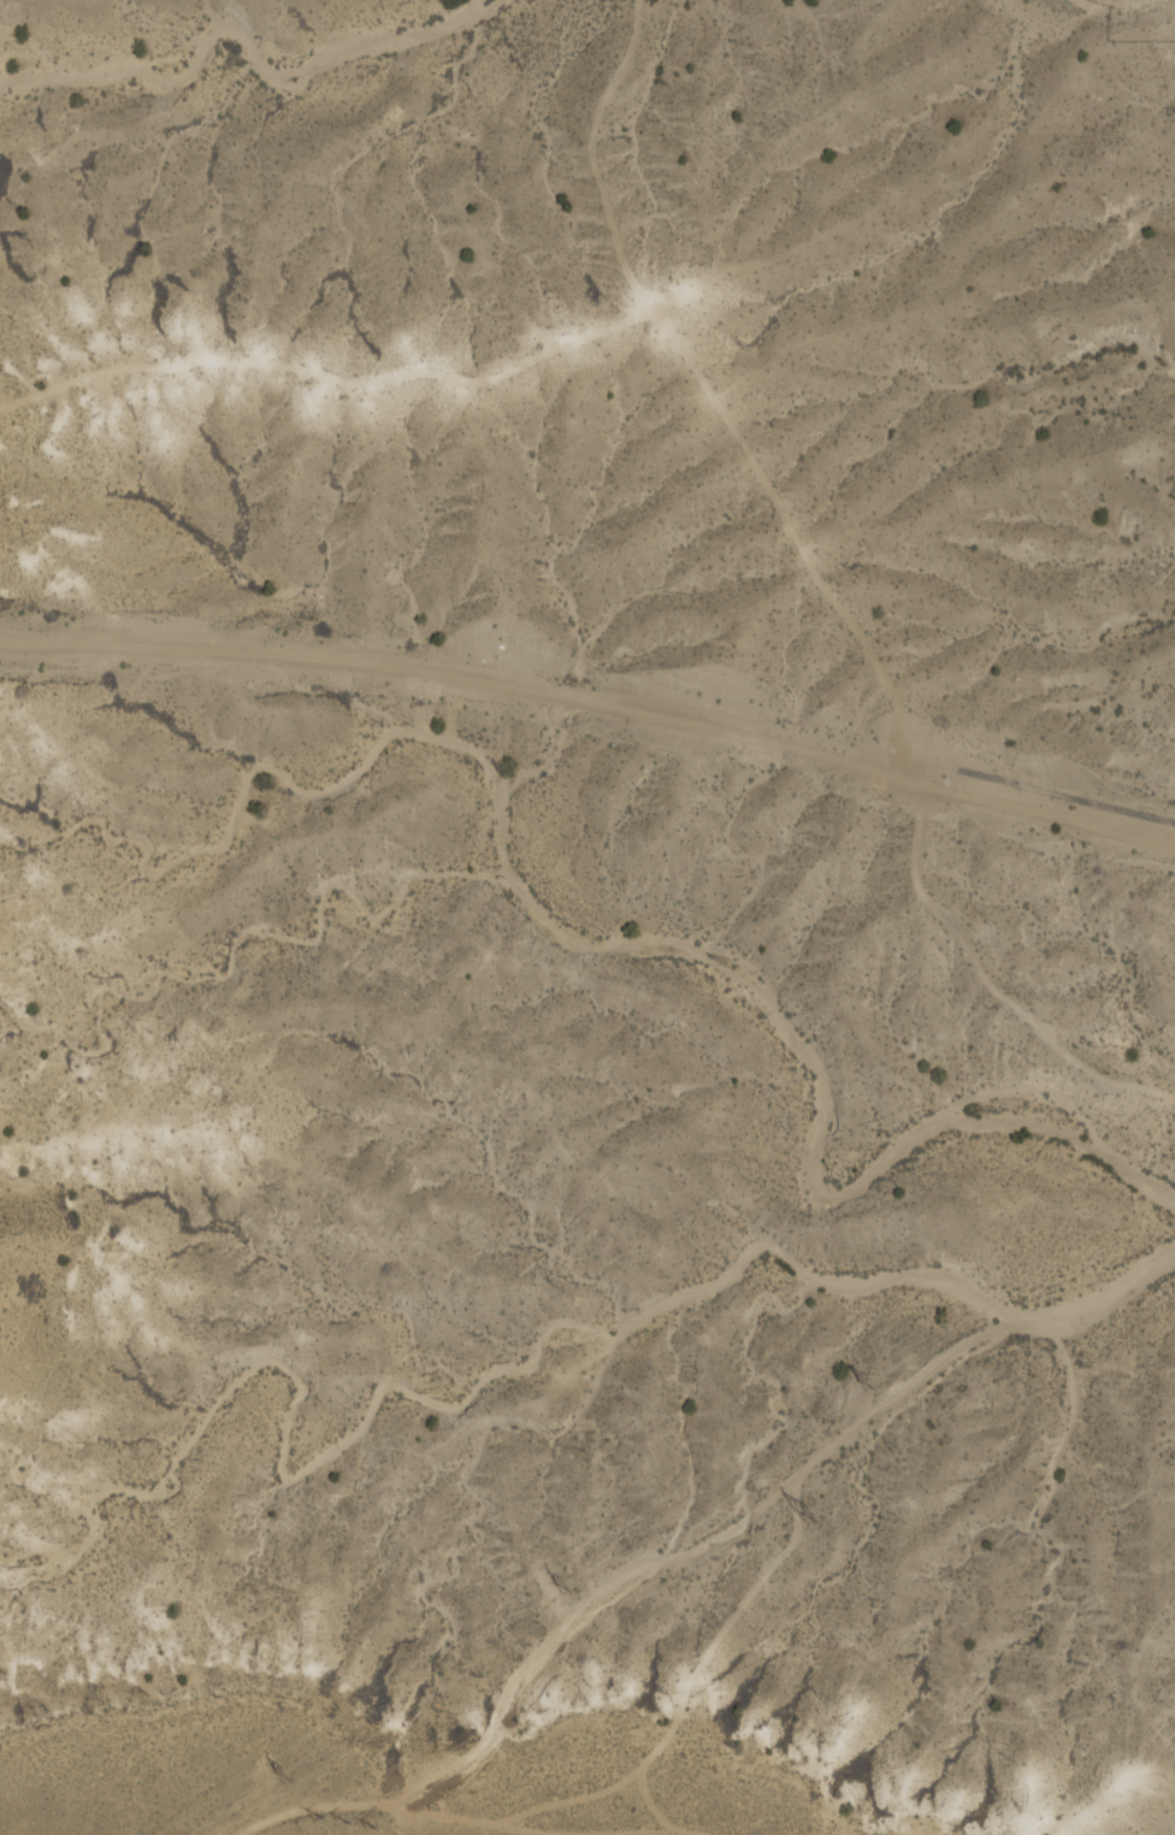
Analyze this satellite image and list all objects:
road: (594, 703)
power tower: (870, 1383)
power tower: (807, 1514)
power tower: (568, 1585)
power tower: (285, 1774)
power tower: (344, 1821)

